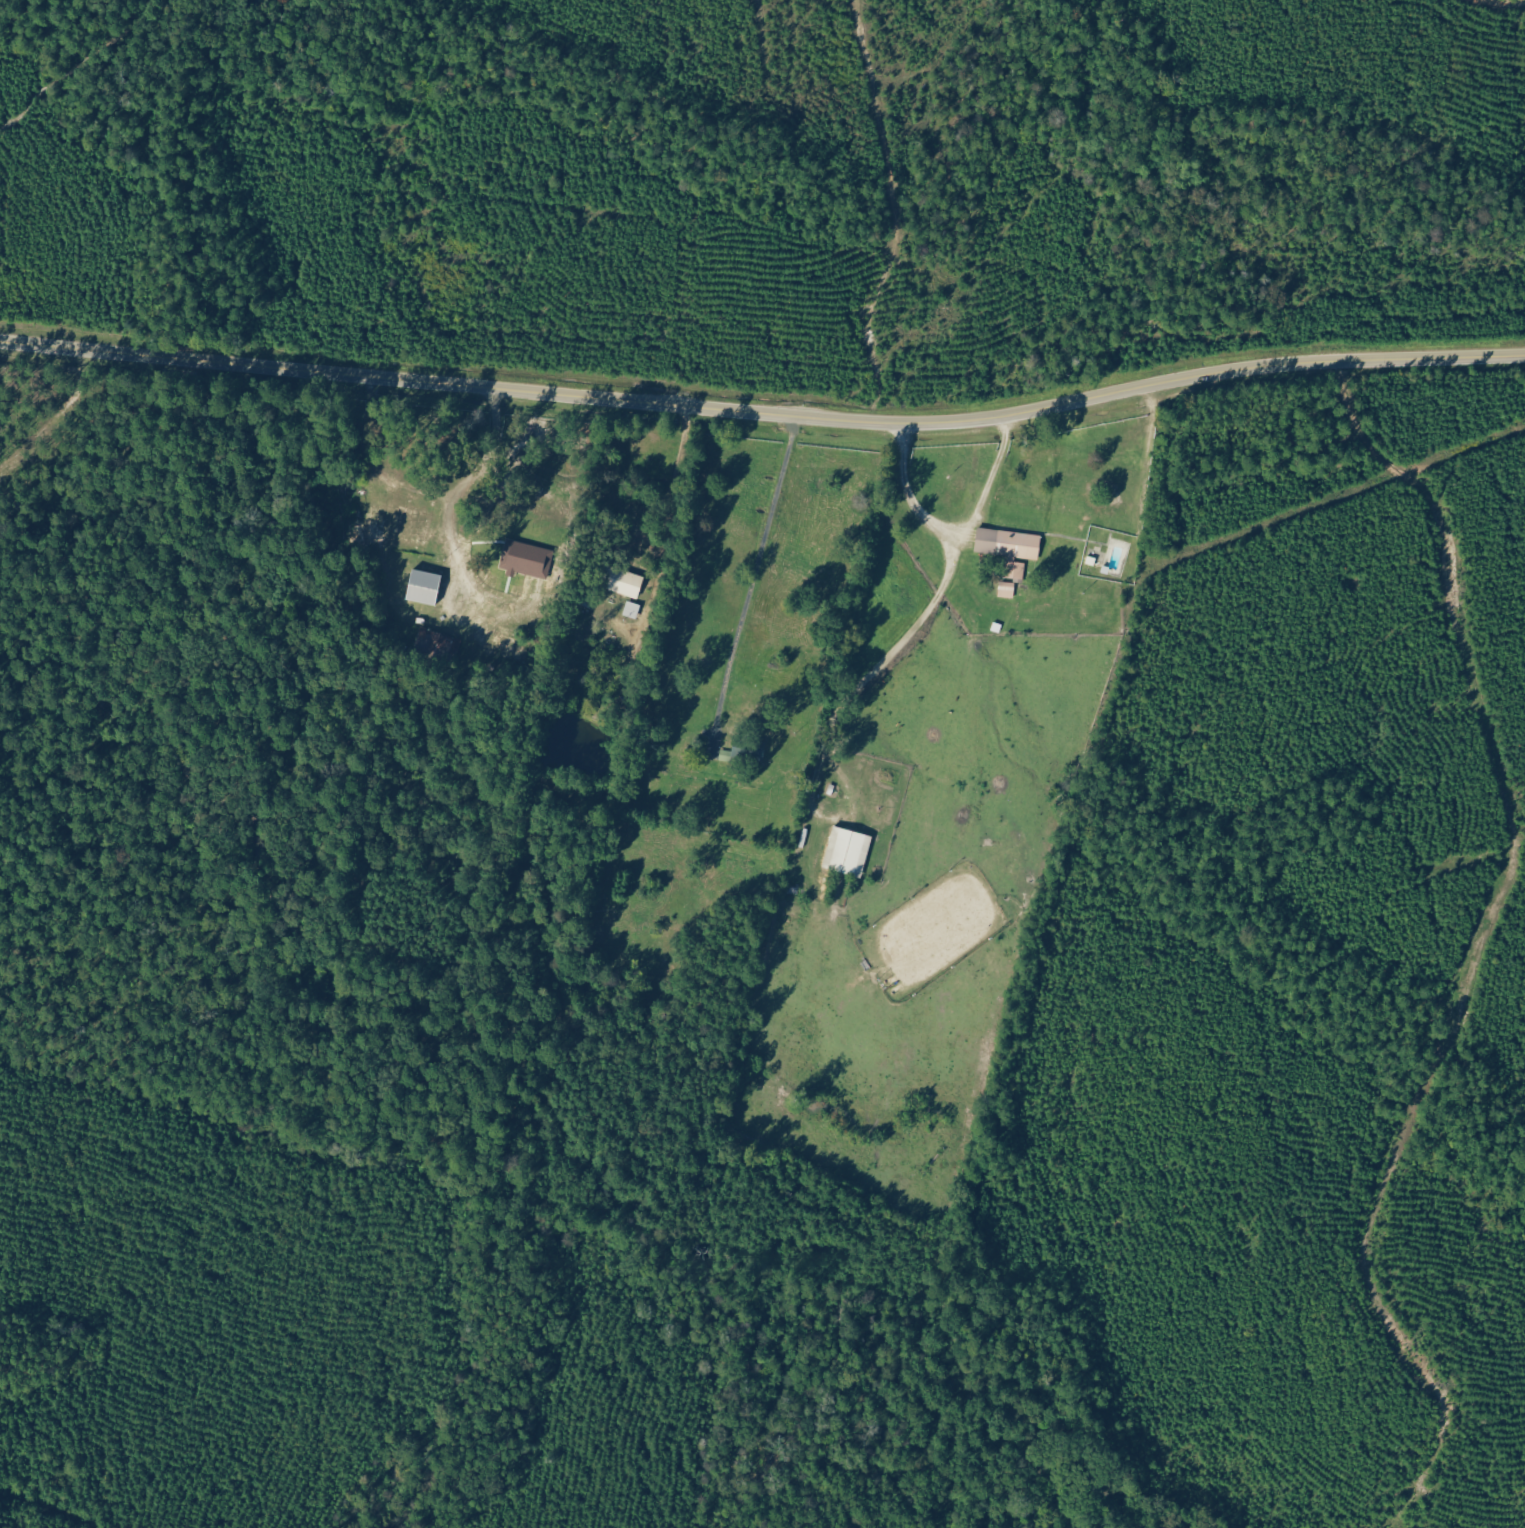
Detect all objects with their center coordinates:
road: (763, 415)
building: (407, 523)
building: (1011, 548)
building: (528, 559)
building: (624, 581)
building: (427, 587)
building: (1008, 590)
building: (438, 646)
building: (747, 750)
building: (848, 851)

